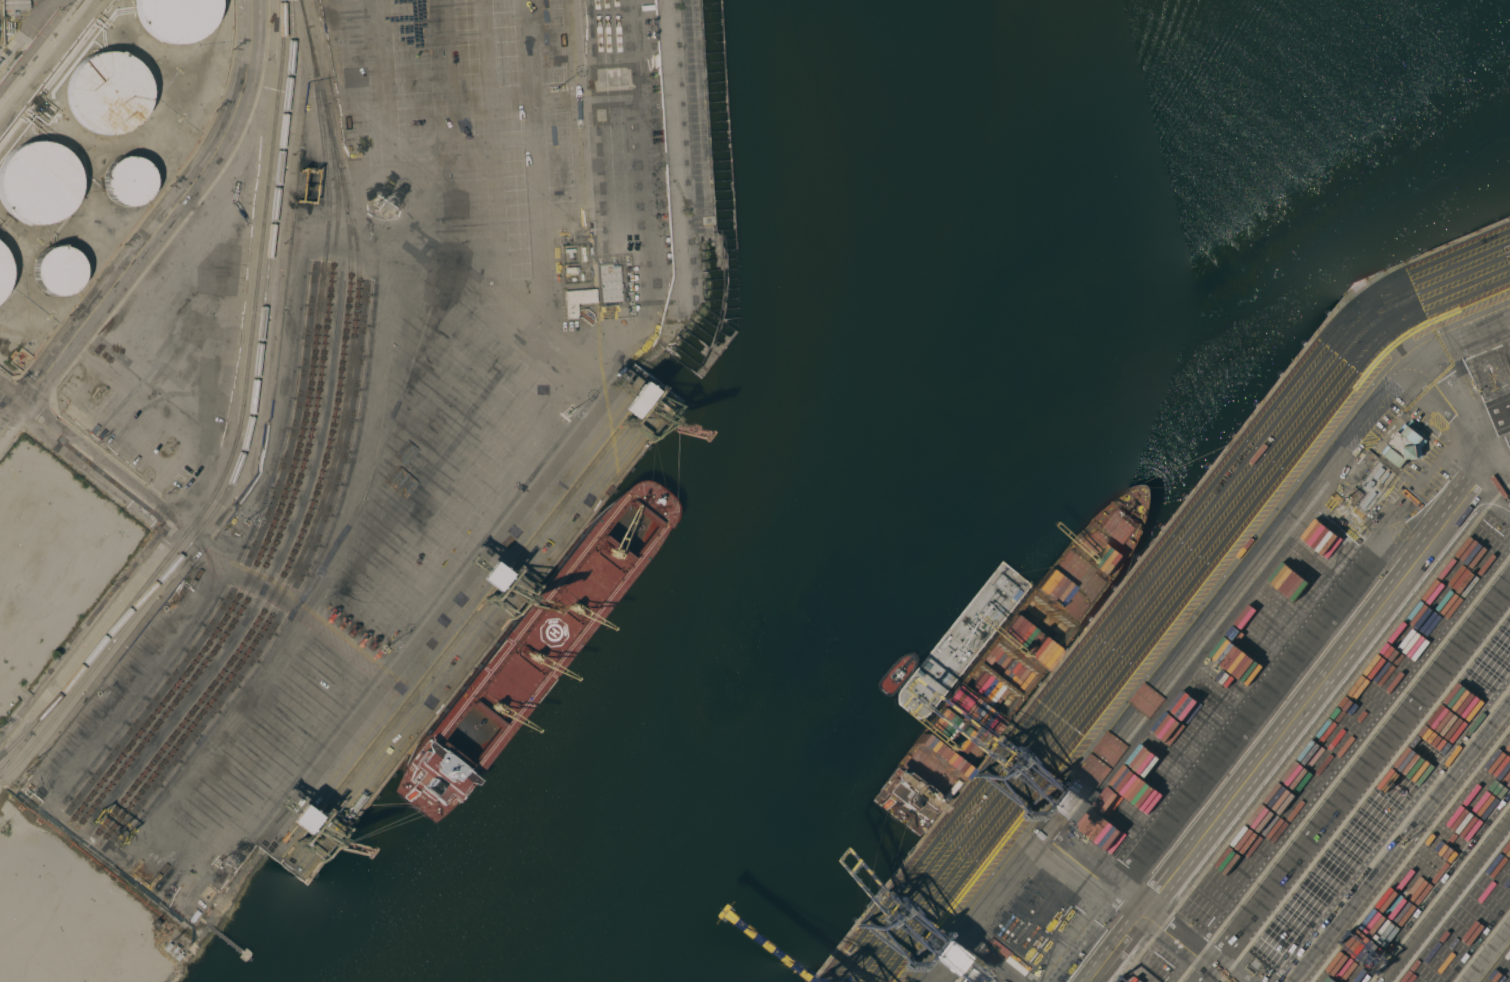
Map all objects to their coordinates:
building: (13, 7)
building: (178, 20)
storage tank: (178, 20)
road: (43, 55)
building: (109, 96)
storage tank: (109, 96)
road: (579, 105)
building: (129, 186)
storage tank: (129, 186)
building: (38, 188)
storage tank: (38, 188)
road: (157, 233)
building: (58, 278)
storage tank: (58, 278)
building: (2, 279)
storage tank: (2, 279)
building: (578, 302)
railway: (242, 426)
railway: (250, 431)
road: (574, 442)
building: (1404, 446)
railway: (337, 454)
road: (87, 459)
road: (1494, 460)
railway: (297, 465)
building: (1374, 490)
railway: (294, 499)
railway: (302, 535)
road: (282, 597)
railway: (141, 600)
road: (87, 641)
railway: (35, 723)
building: (198, 908)
building: (974, 975)

